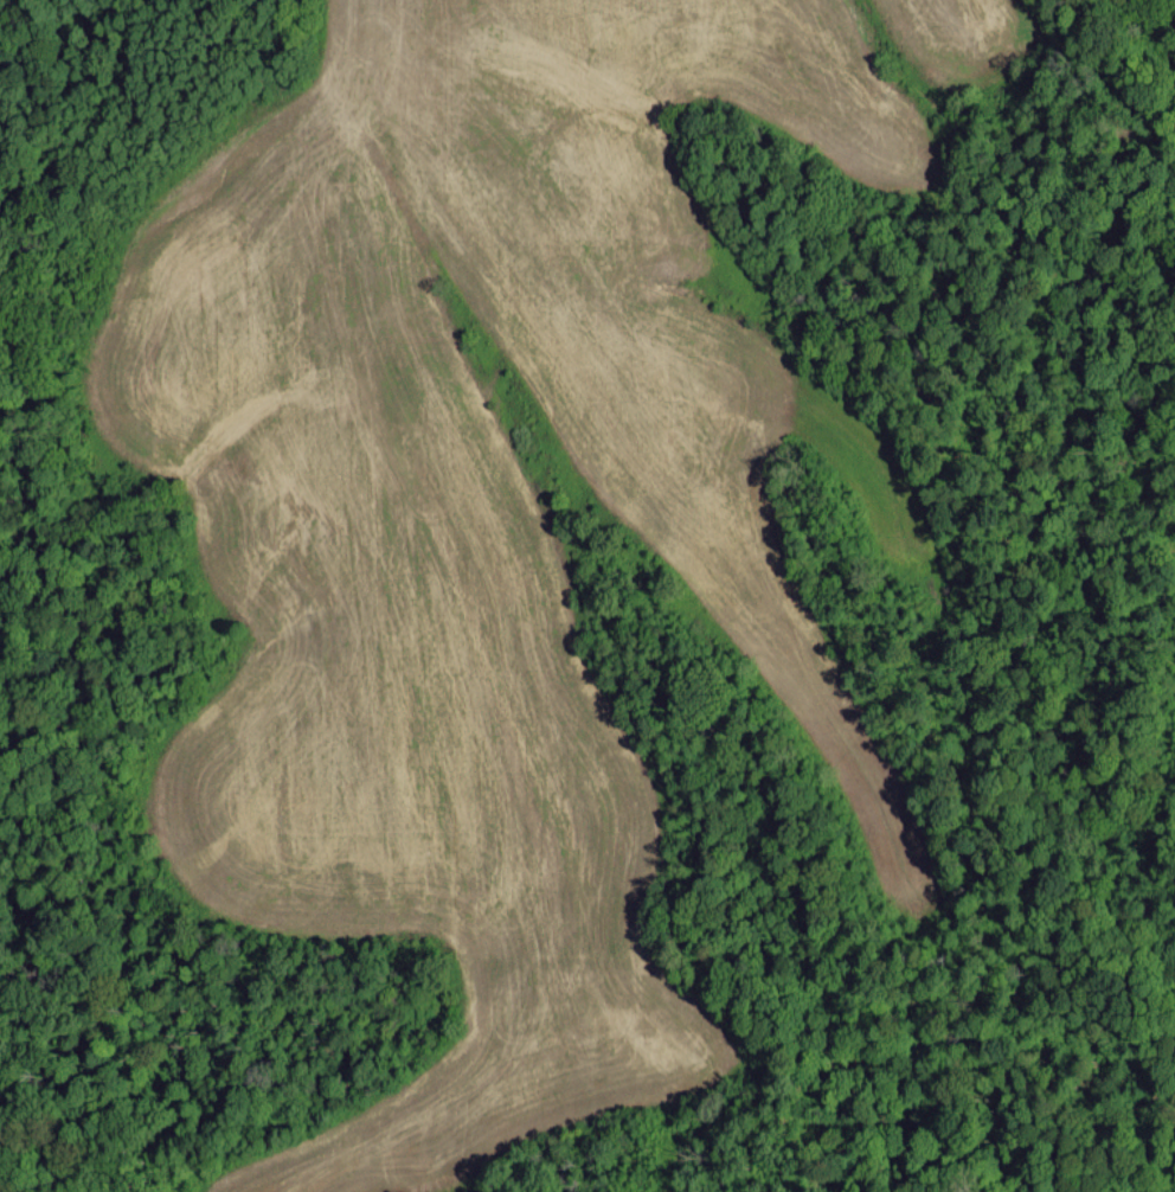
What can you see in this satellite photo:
park: (103, 1058)

